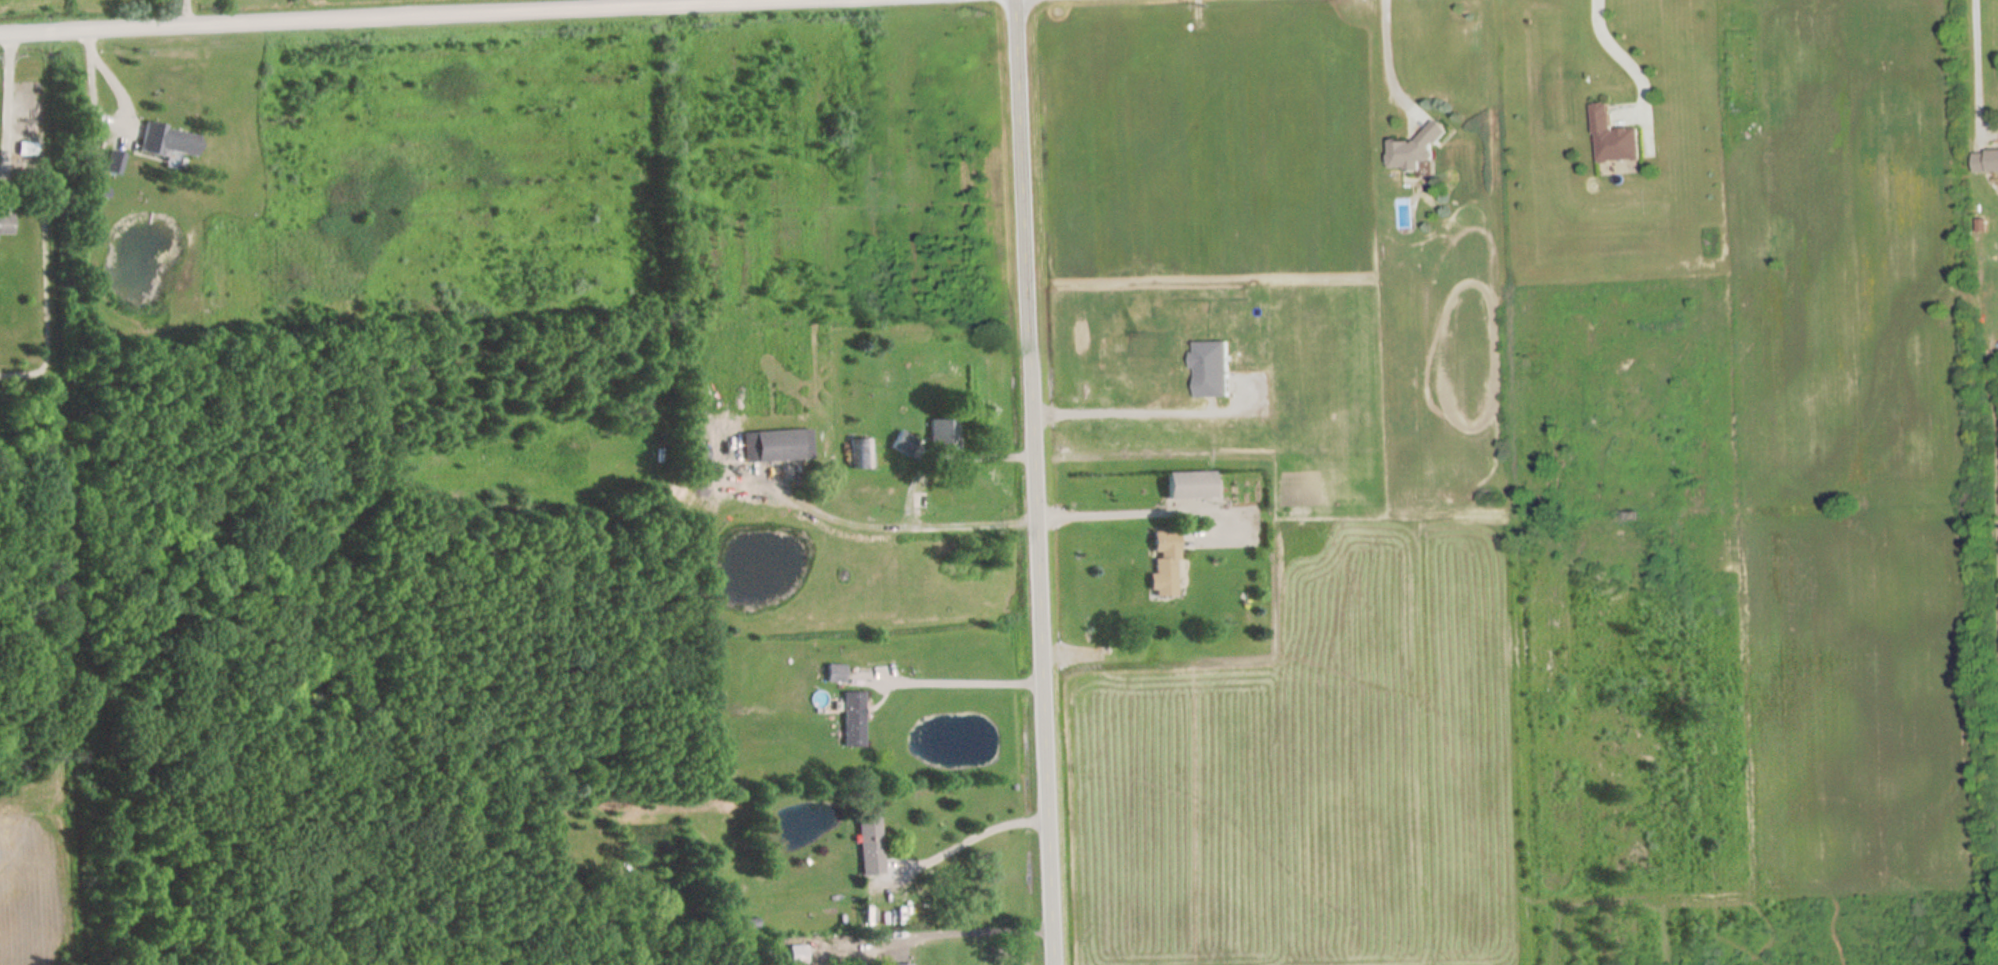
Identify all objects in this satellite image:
crop: (253, 1)
road: (183, 13)
road: (383, 17)
road: (1385, 56)
road: (1621, 57)
road: (1973, 68)
road: (3, 101)
road: (120, 115)
building: (1613, 138)
building: (168, 141)
building: (1414, 149)
building: (1985, 161)
building: (4, 223)
road: (1130, 411)
building: (940, 435)
building: (903, 444)
building: (775, 445)
building: (858, 453)
road: (1031, 482)
building: (1185, 485)
road: (1094, 519)
road: (908, 523)
building: (1162, 564)
building: (832, 674)
road: (964, 682)
building: (850, 719)
road: (976, 830)
building: (868, 846)
road: (971, 933)
building: (796, 956)
building: (901, 964)

